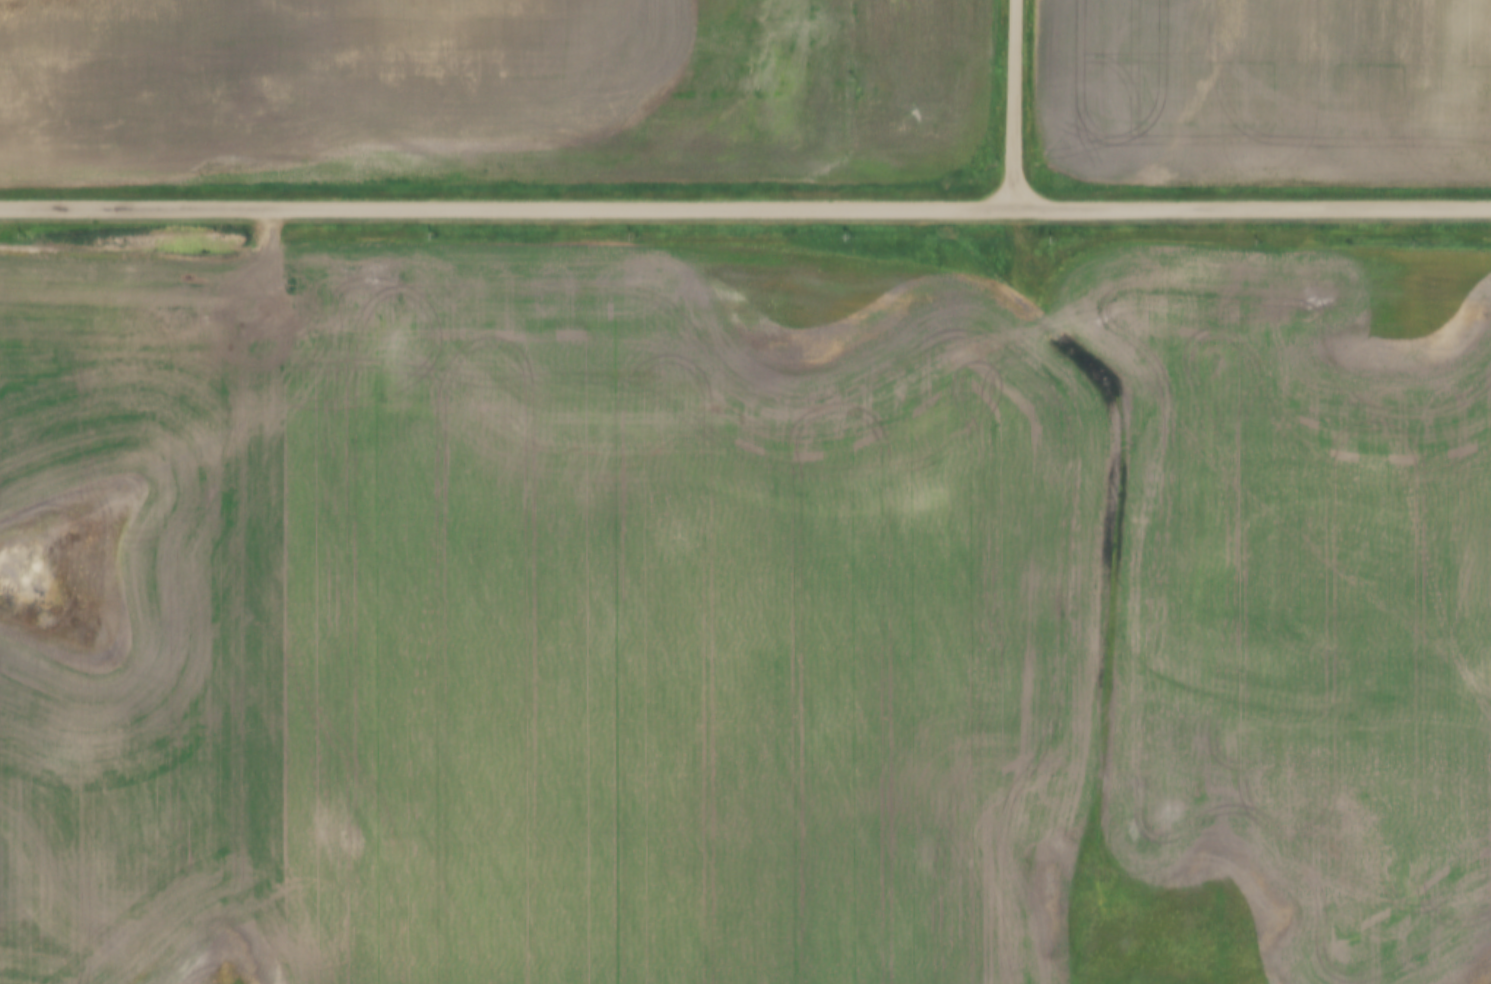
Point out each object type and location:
road: (1018, 104)
road: (745, 208)

